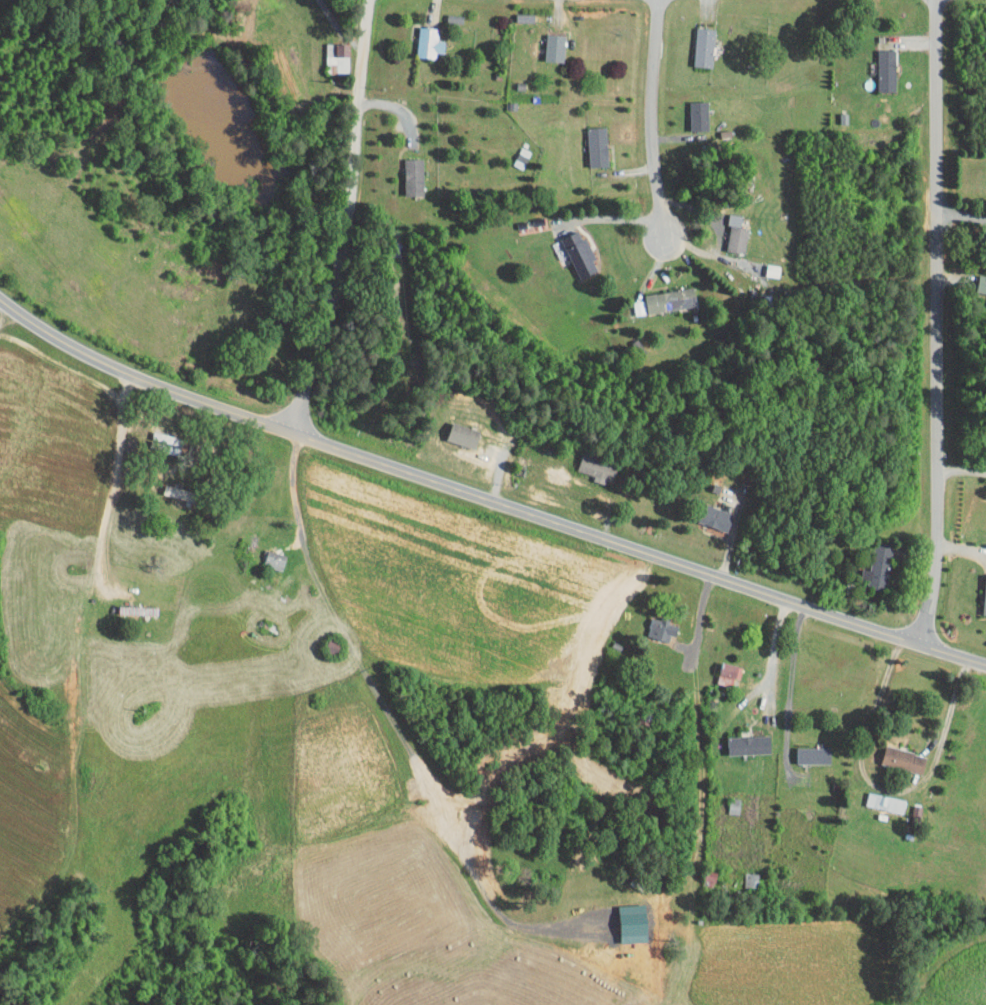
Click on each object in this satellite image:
building: (419, 36)
building: (693, 40)
building: (544, 41)
building: (326, 56)
building: (876, 64)
building: (688, 109)
road: (652, 117)
building: (587, 140)
building: (403, 170)
road: (961, 216)
road: (610, 219)
road: (348, 220)
building: (726, 233)
building: (569, 248)
building: (977, 279)
building: (660, 293)
building: (629, 301)
road: (937, 323)
building: (454, 429)
building: (154, 436)
building: (586, 462)
road: (962, 470)
road: (108, 480)
road: (485, 499)
building: (706, 512)
building: (265, 553)
building: (869, 561)
building: (980, 589)
building: (651, 622)
road: (774, 643)
building: (718, 667)
road: (785, 690)
road: (389, 718)
building: (738, 738)
building: (803, 749)
building: (895, 754)
road: (880, 788)
building: (875, 796)
building: (723, 800)
building: (624, 917)

